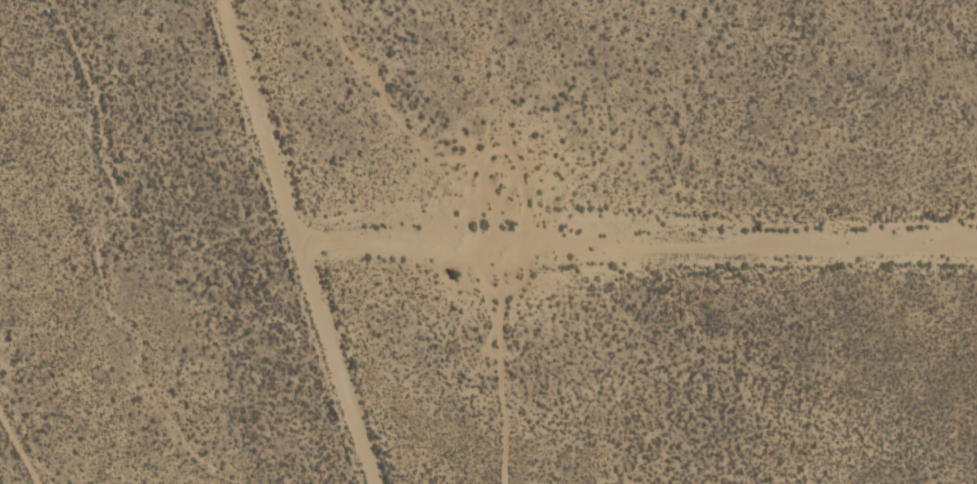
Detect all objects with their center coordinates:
road: (293, 242)

